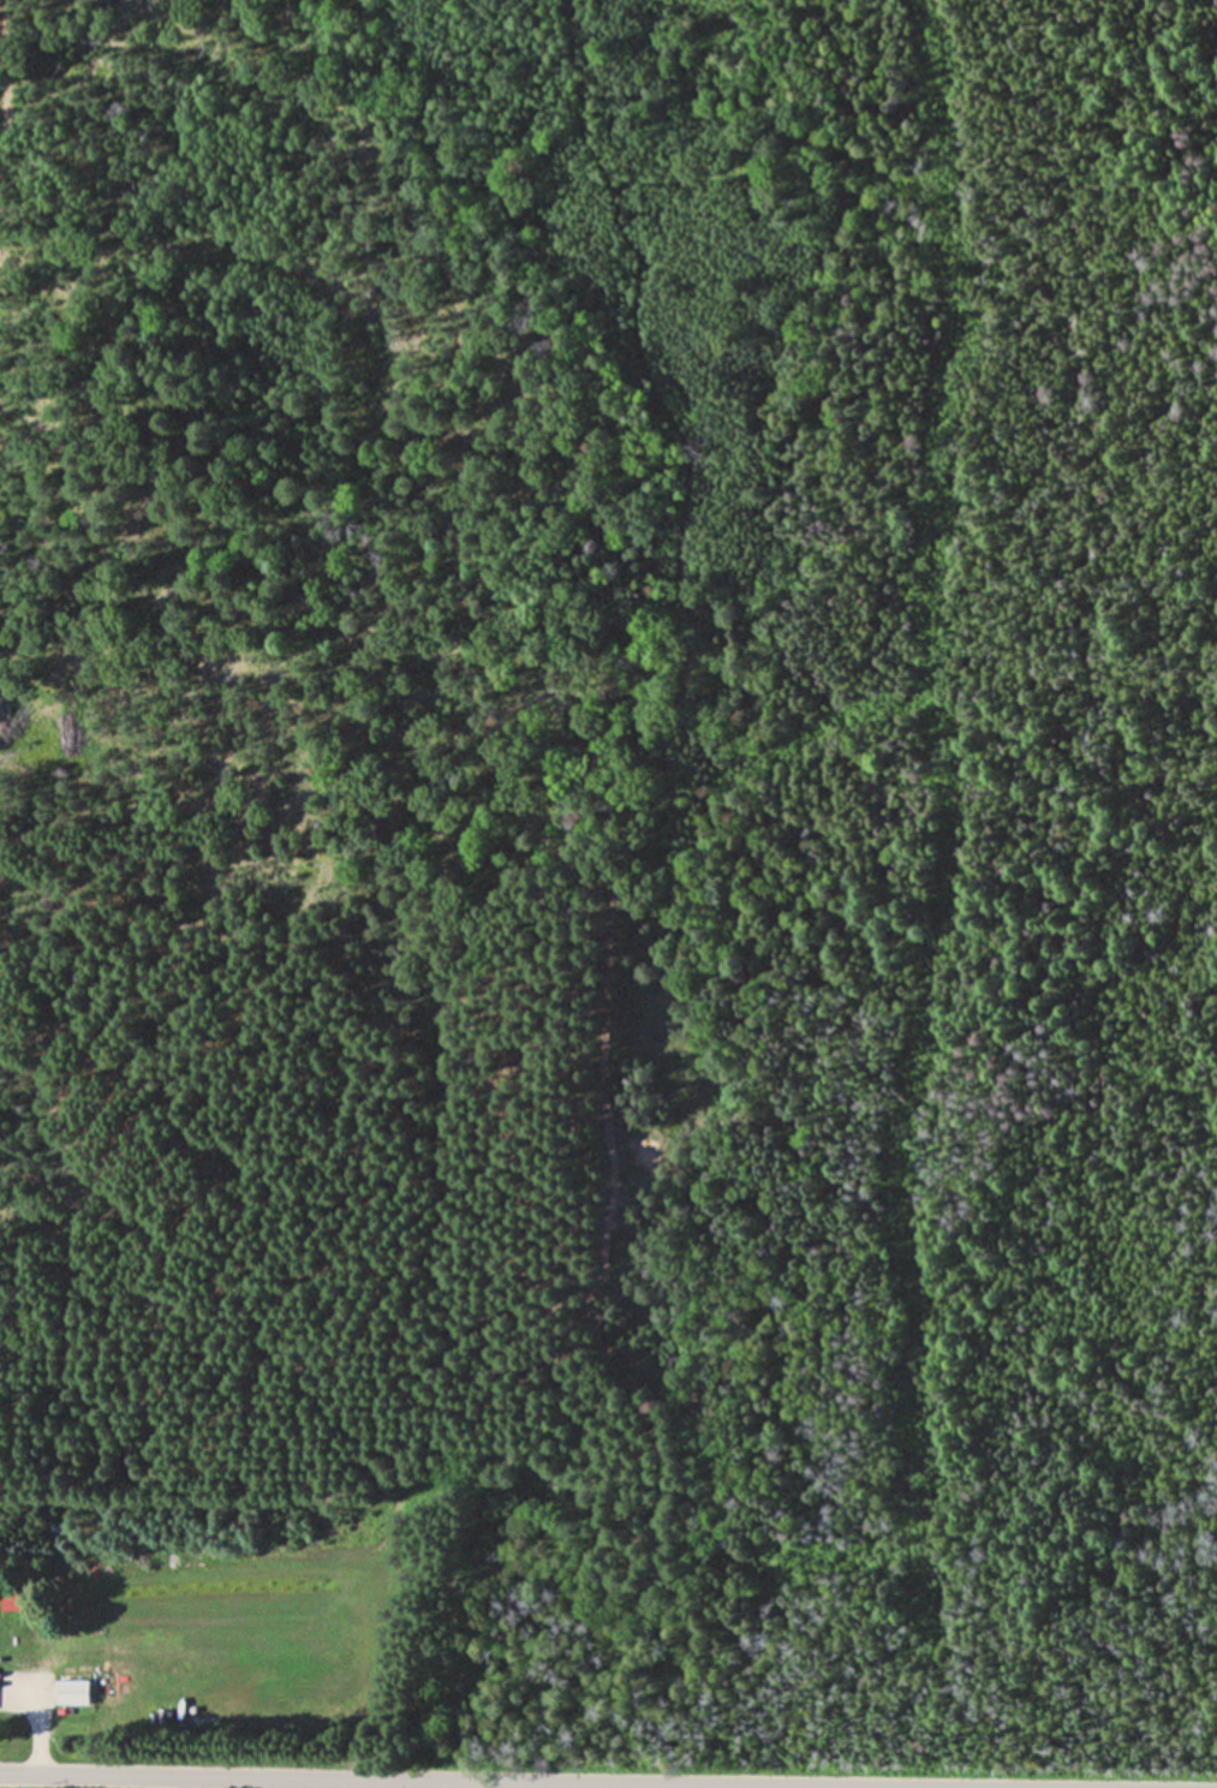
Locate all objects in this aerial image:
building: (67, 1692)
road: (460, 1781)

